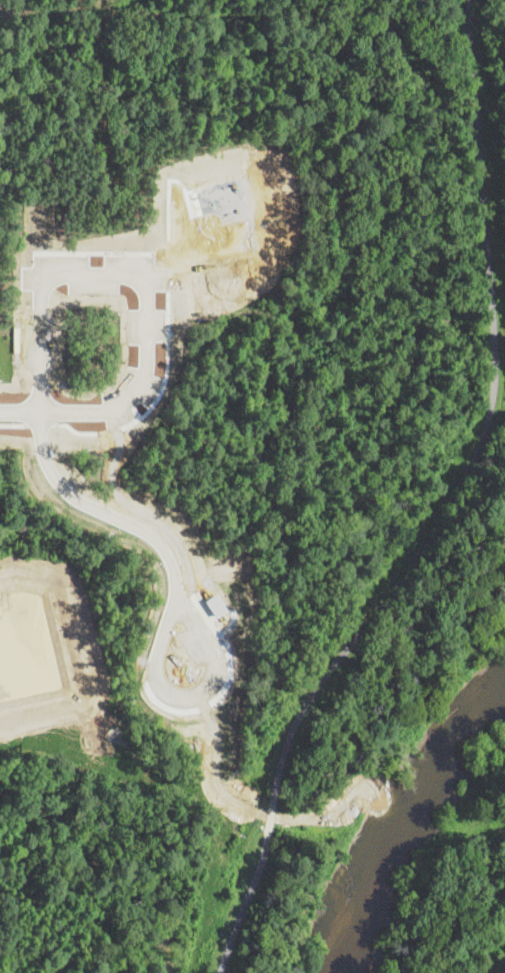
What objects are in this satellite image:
road: (193, 213)
road: (170, 215)
road: (219, 234)
road: (104, 252)
road: (211, 252)
road: (111, 272)
parking lot: (99, 273)
parking lot: (151, 328)
road: (168, 388)
parking lot: (134, 394)
road: (21, 407)
road: (73, 407)
park: (257, 413)
road: (16, 423)
road: (42, 423)
road: (101, 510)
road: (446, 511)
road: (150, 512)
building: (215, 601)
road: (234, 613)
parking lot: (195, 646)
road: (217, 665)
road: (226, 688)
road: (220, 765)
road: (335, 785)
river: (408, 824)

